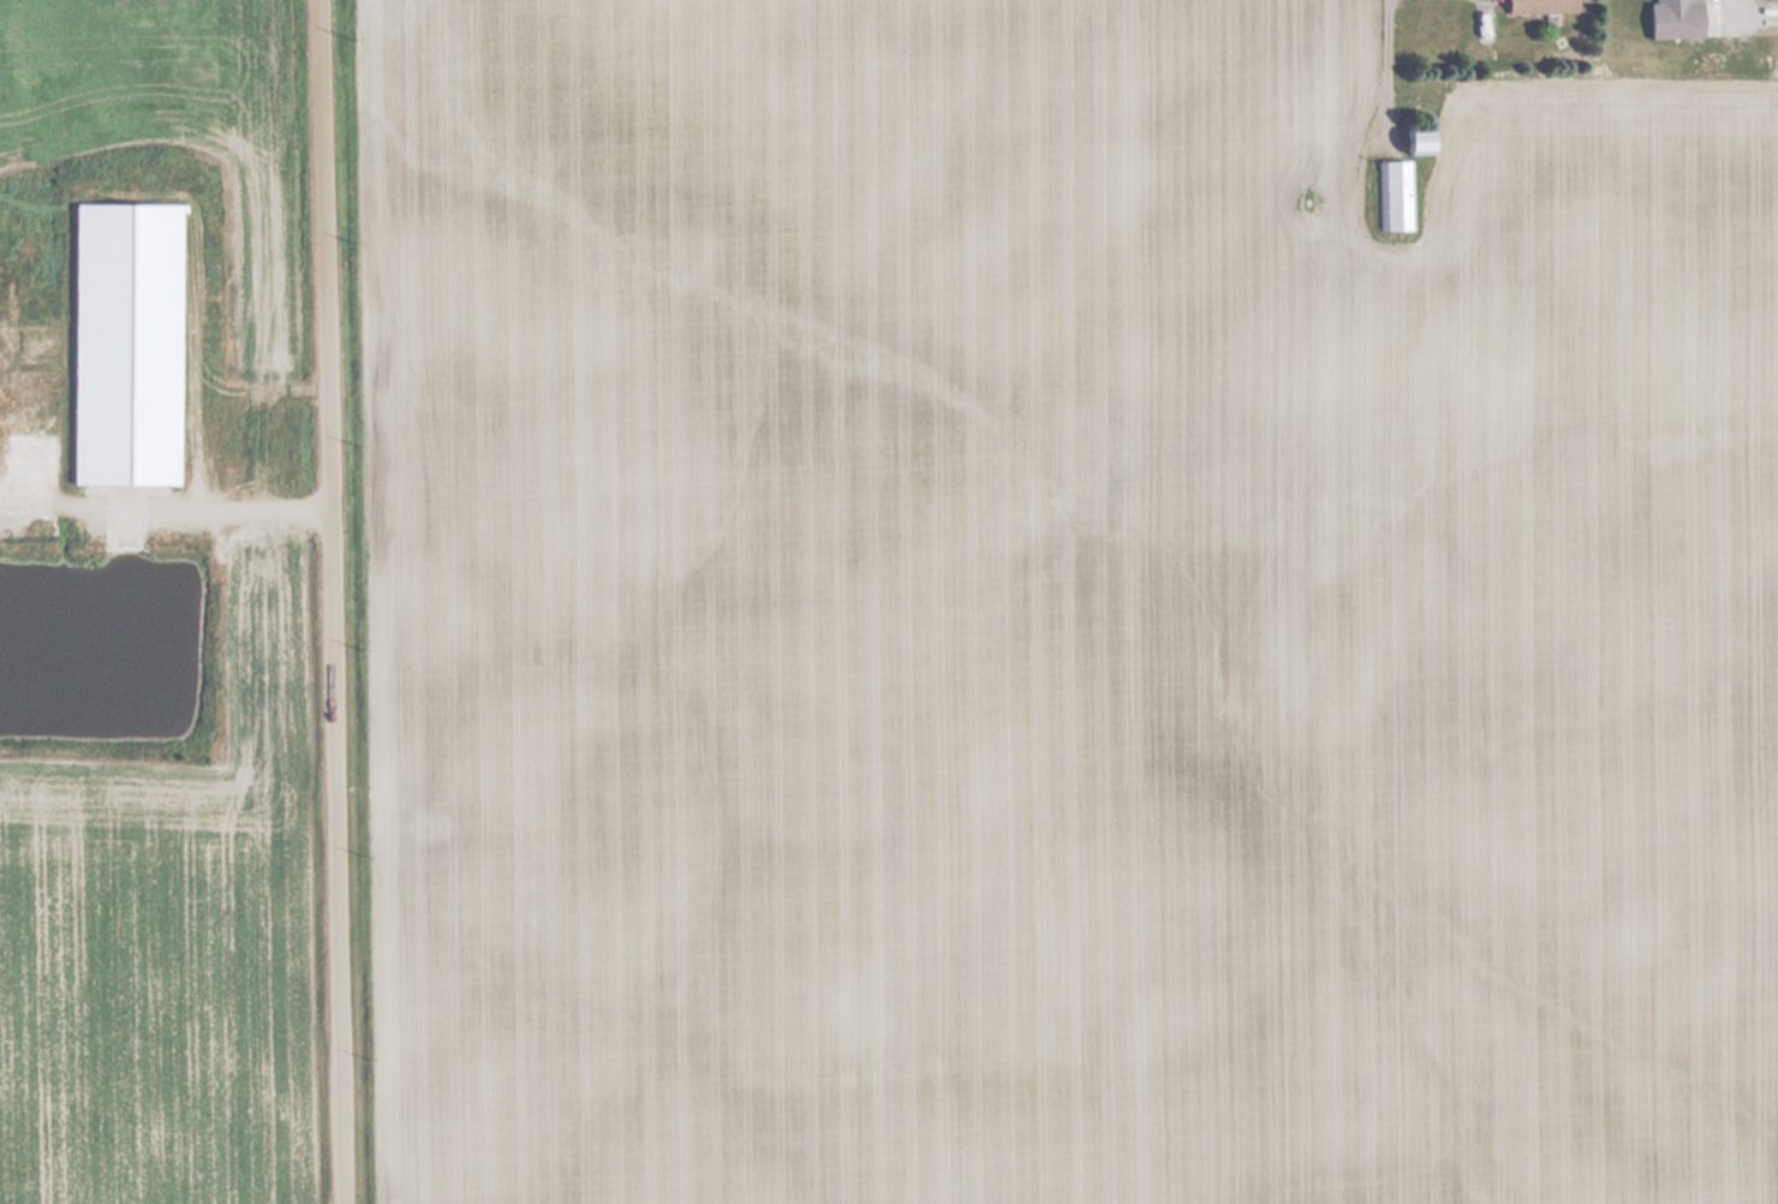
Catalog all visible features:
building: (1533, 6)
building: (1670, 19)
building: (1406, 141)
building: (1394, 195)
building: (112, 344)
building: (1, 421)
road: (329, 602)

